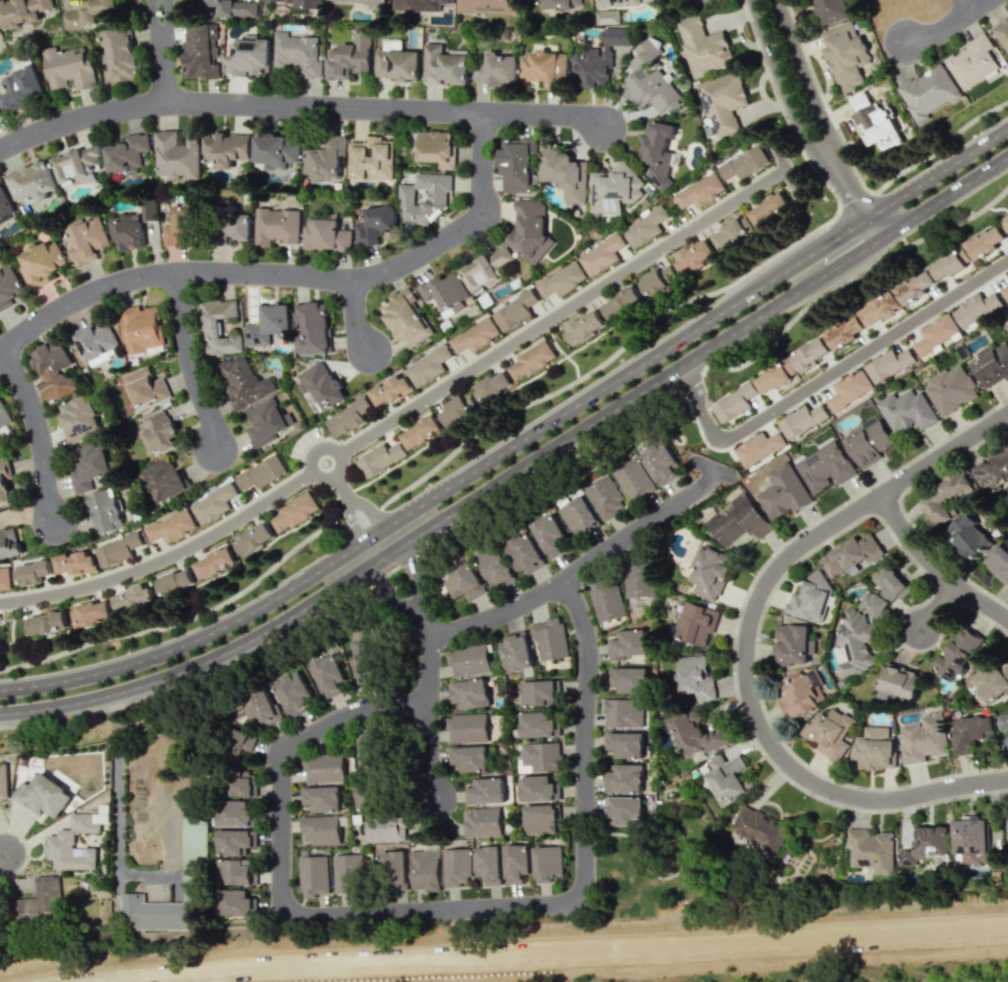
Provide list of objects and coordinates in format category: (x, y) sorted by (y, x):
building: (359, 0)
building: (298, 2)
building: (419, 4)
building: (560, 4)
building: (488, 6)
road: (974, 6)
building: (226, 8)
building: (829, 10)
building: (22, 11)
building: (91, 14)
building: (607, 17)
road: (955, 26)
building: (1002, 34)
building: (704, 47)
road: (166, 51)
building: (201, 51)
building: (298, 53)
building: (118, 55)
building: (845, 55)
building: (249, 56)
building: (350, 57)
building: (599, 59)
building: (397, 62)
building: (972, 62)
building: (445, 65)
building: (544, 67)
building: (70, 68)
building: (497, 69)
building: (649, 81)
building: (22, 87)
building: (928, 92)
road: (301, 105)
building: (0, 115)
road: (815, 122)
building: (874, 122)
building: (228, 145)
building: (437, 148)
road: (944, 148)
building: (277, 149)
building: (178, 152)
building: (658, 152)
building: (126, 153)
building: (325, 158)
building: (371, 158)
building: (744, 163)
building: (77, 164)
building: (517, 167)
road: (781, 169)
building: (565, 173)
building: (32, 182)
building: (614, 189)
building: (700, 191)
building: (425, 199)
building: (5, 203)
building: (769, 209)
building: (374, 223)
building: (1004, 223)
building: (181, 225)
building: (233, 225)
building: (277, 226)
building: (645, 227)
building: (530, 230)
building: (731, 231)
building: (128, 232)
building: (326, 234)
building: (87, 240)
building: (985, 243)
building: (602, 255)
building: (694, 255)
building: (41, 262)
building: (951, 265)
building: (487, 269)
road: (290, 273)
building: (1007, 275)
building: (658, 279)
building: (562, 280)
building: (9, 286)
building: (915, 287)
building: (444, 292)
building: (1005, 292)
building: (621, 303)
building: (976, 308)
building: (880, 309)
building: (515, 310)
road: (360, 314)
building: (405, 317)
building: (268, 324)
building: (1006, 325)
building: (218, 327)
building: (313, 327)
building: (583, 327)
building: (140, 328)
building: (844, 333)
building: (476, 335)
building: (937, 335)
building: (96, 342)
road: (865, 349)
building: (810, 354)
building: (532, 360)
road: (195, 361)
building: (889, 364)
building: (991, 364)
building: (428, 366)
building: (54, 370)
building: (774, 378)
building: (243, 381)
building: (320, 384)
building: (494, 385)
building: (145, 387)
building: (391, 389)
building: (951, 389)
building: (849, 390)
building: (734, 402)
road: (696, 405)
building: (456, 409)
building: (907, 411)
road: (403, 413)
building: (4, 414)
building: (348, 417)
building: (79, 418)
building: (802, 420)
building: (266, 421)
building: (422, 430)
road: (41, 431)
building: (160, 432)
road: (518, 441)
building: (867, 441)
building: (759, 447)
building: (380, 458)
building: (661, 463)
building: (824, 466)
building: (90, 467)
building: (994, 468)
road: (519, 469)
building: (262, 472)
road: (430, 474)
building: (164, 478)
building: (633, 480)
building: (5, 485)
building: (783, 492)
building: (606, 497)
building: (943, 497)
building: (214, 504)
road: (357, 507)
building: (106, 510)
building: (295, 512)
building: (578, 516)
building: (737, 521)
building: (171, 526)
building: (550, 536)
building: (969, 536)
building: (254, 538)
building: (9, 542)
building: (117, 549)
building: (524, 552)
building: (851, 555)
building: (215, 562)
building: (998, 562)
building: (75, 563)
building: (494, 566)
road: (935, 567)
road: (575, 569)
building: (35, 571)
building: (709, 572)
building: (5, 578)
building: (638, 580)
building: (177, 581)
building: (464, 582)
building: (885, 590)
building: (133, 598)
building: (810, 598)
building: (607, 600)
road: (938, 607)
building: (91, 612)
building: (47, 622)
building: (696, 623)
building: (549, 638)
building: (627, 644)
building: (792, 644)
building: (855, 644)
road: (746, 645)
building: (516, 651)
building: (468, 660)
building: (362, 662)
road: (431, 668)
building: (330, 675)
building: (695, 677)
building: (630, 679)
building: (900, 681)
building: (990, 682)
building: (295, 692)
building: (540, 692)
building: (470, 693)
building: (801, 693)
building: (263, 707)
building: (621, 713)
building: (1002, 721)
building: (537, 725)
building: (466, 728)
building: (828, 732)
building: (971, 733)
building: (695, 734)
building: (238, 739)
building: (924, 739)
building: (625, 744)
building: (875, 748)
building: (369, 752)
building: (539, 757)
building: (470, 758)
building: (324, 768)
building: (625, 778)
building: (727, 779)
building: (4, 781)
building: (242, 783)
building: (538, 788)
road: (117, 790)
building: (486, 791)
building: (43, 795)
building: (323, 798)
building: (624, 810)
building: (235, 813)
building: (540, 818)
building: (481, 822)
building: (385, 828)
building: (320, 830)
building: (758, 830)
building: (1006, 830)
building: (60, 841)
building: (235, 841)
building: (972, 841)
building: (925, 845)
building: (870, 850)
road: (3, 854)
building: (197, 856)
building: (515, 863)
building: (546, 863)
park: (650, 863)
building: (487, 864)
building: (455, 867)
building: (393, 869)
building: (423, 870)
road: (144, 871)
building: (345, 871)
building: (236, 872)
building: (313, 875)
building: (39, 899)
building: (234, 902)
road: (438, 906)
building: (151, 912)
road: (561, 951)

